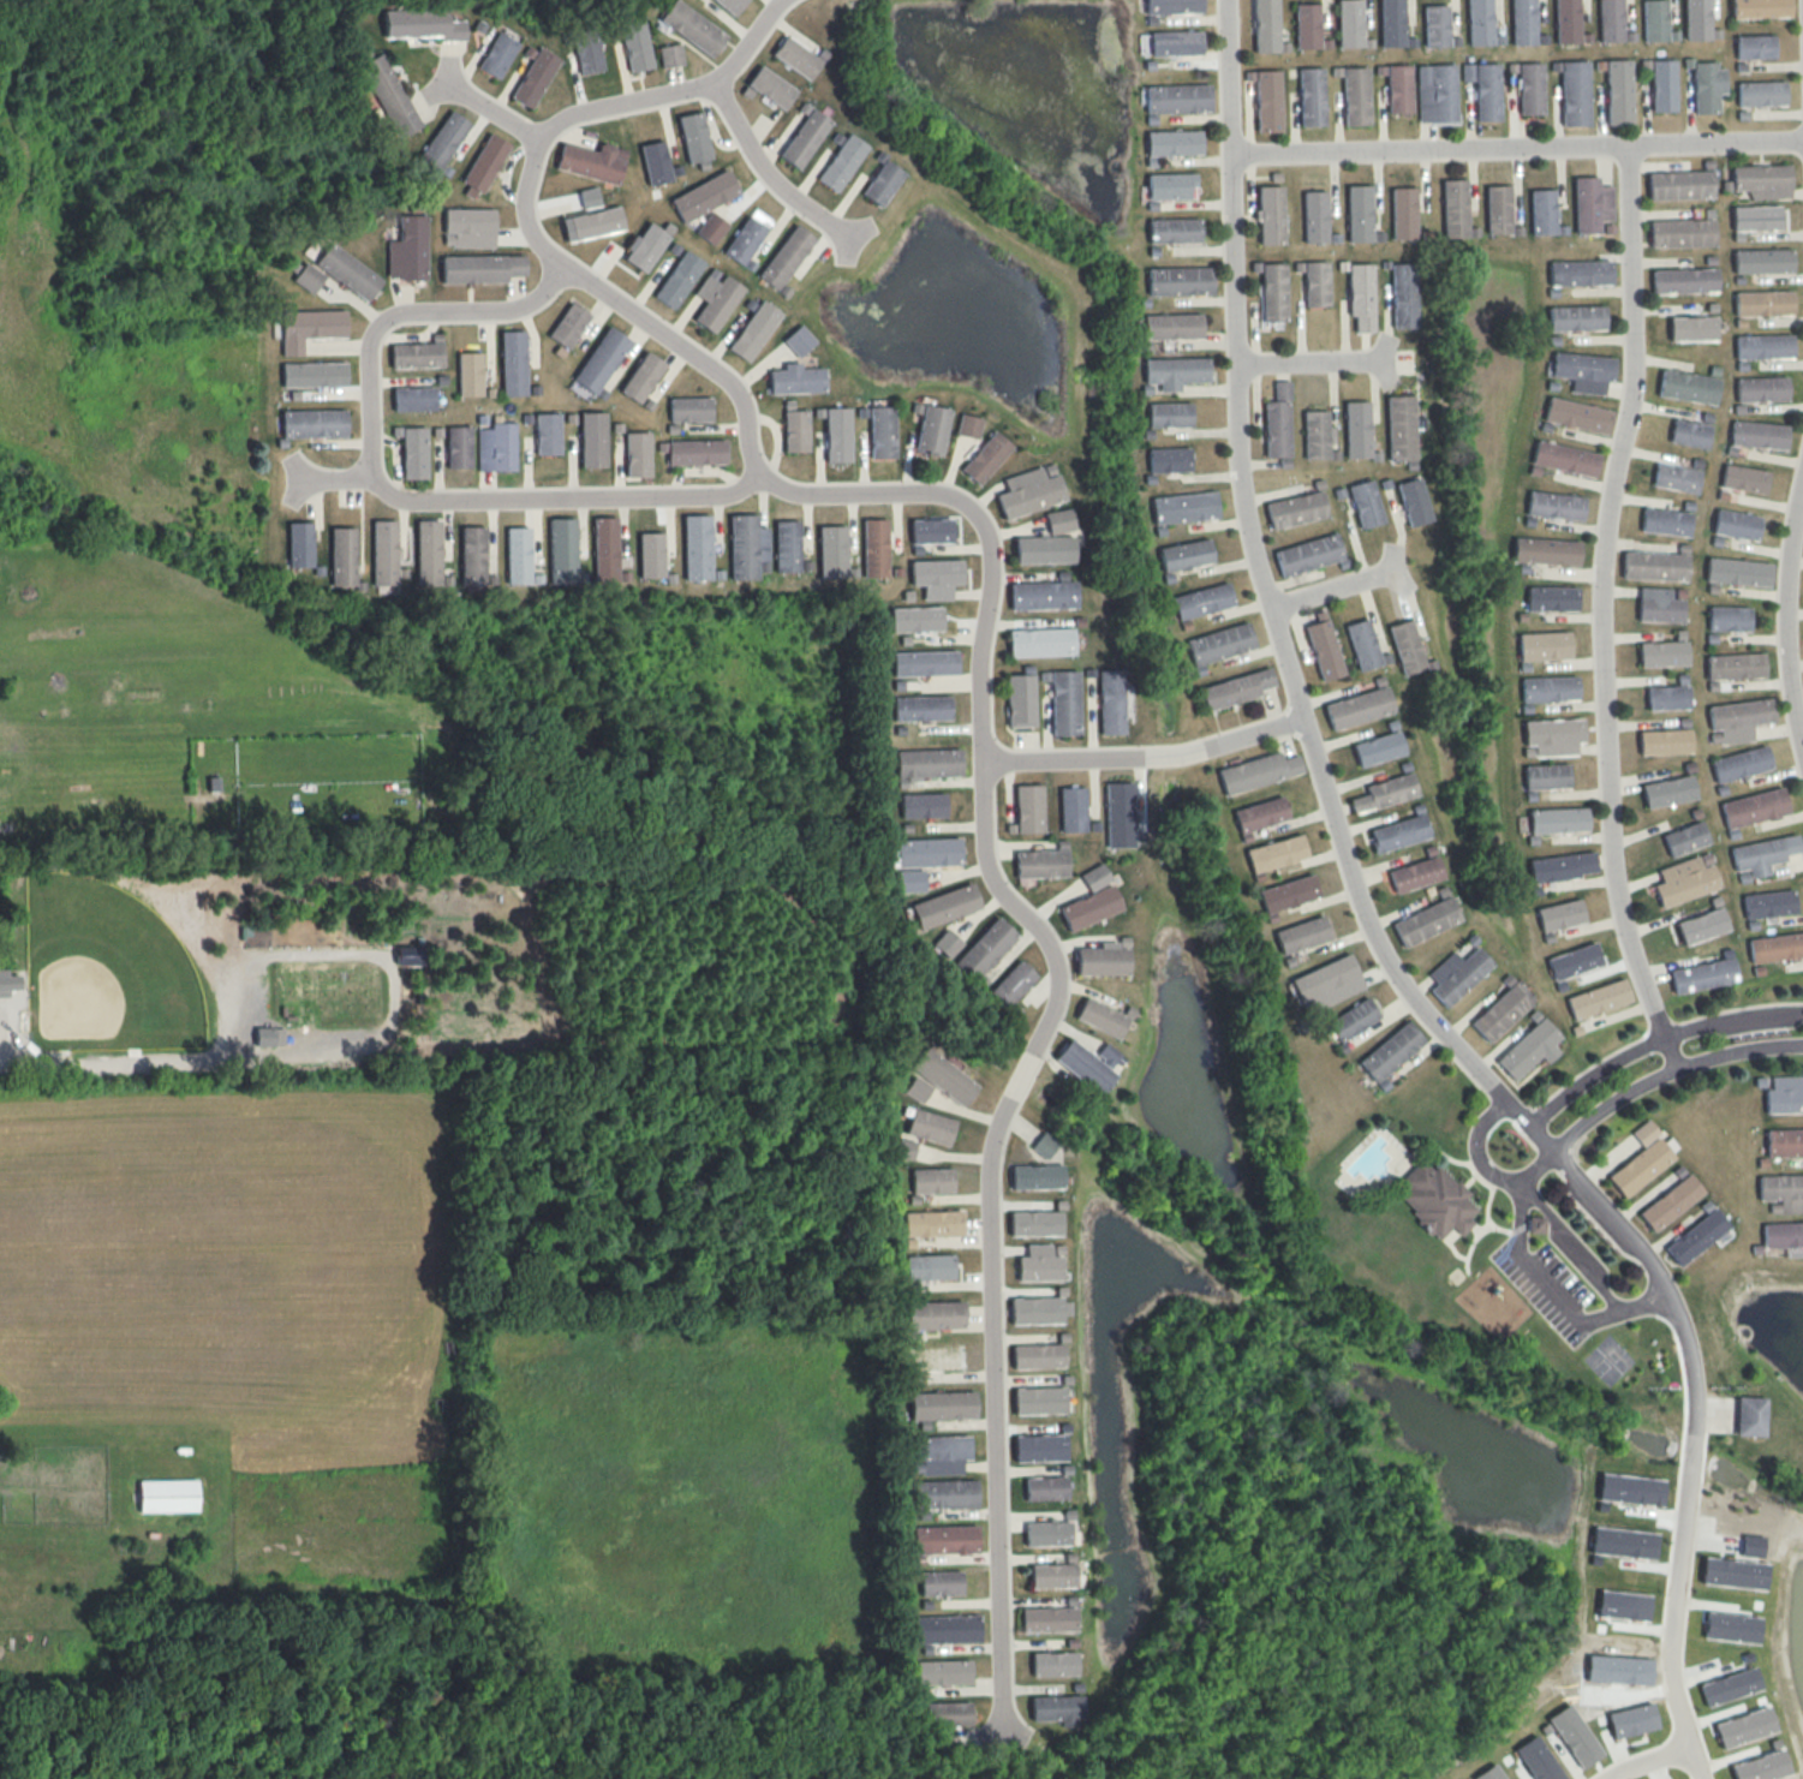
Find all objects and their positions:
building: (730, 5)
building: (1174, 6)
building: (1760, 8)
building: (1654, 19)
building: (1697, 19)
building: (1566, 20)
building: (1611, 20)
building: (1479, 22)
building: (1523, 22)
building: (1349, 23)
building: (1391, 23)
building: (422, 24)
building: (1266, 25)
building: (1307, 25)
building: (1435, 25)
building: (692, 28)
building: (1176, 42)
building: (635, 44)
building: (1754, 46)
building: (586, 53)
building: (497, 54)
building: (670, 55)
building: (796, 56)
building: (535, 77)
building: (1662, 85)
building: (1707, 85)
building: (771, 86)
building: (1530, 88)
building: (1483, 89)
road: (673, 91)
building: (1618, 91)
building: (1435, 92)
building: (1574, 92)
building: (1761, 92)
building: (388, 95)
building: (1355, 95)
building: (1311, 96)
building: (1177, 97)
building: (1267, 100)
road: (486, 108)
building: (694, 136)
building: (804, 137)
building: (443, 141)
building: (1174, 142)
road: (1515, 145)
building: (592, 161)
building: (655, 162)
building: (842, 162)
building: (483, 165)
road: (769, 173)
building: (1762, 180)
building: (882, 183)
building: (1680, 184)
building: (1170, 185)
building: (704, 195)
building: (589, 197)
building: (1590, 204)
building: (1455, 208)
building: (1497, 209)
building: (1541, 211)
building: (1359, 213)
building: (1403, 213)
building: (1270, 214)
building: (1314, 216)
building: (1755, 217)
building: (592, 223)
building: (468, 227)
building: (711, 227)
building: (1174, 229)
building: (1680, 232)
building: (745, 240)
building: (645, 246)
building: (407, 249)
building: (786, 257)
building: (1762, 261)
building: (480, 268)
building: (347, 271)
building: (1580, 273)
building: (308, 277)
building: (679, 279)
building: (1180, 280)
building: (1684, 280)
building: (1315, 283)
building: (1272, 291)
building: (1361, 295)
building: (1403, 295)
building: (716, 299)
building: (1762, 303)
building: (1576, 317)
building: (568, 324)
building: (1171, 326)
building: (309, 327)
building: (1691, 328)
building: (753, 330)
building: (799, 340)
building: (1763, 346)
building: (601, 359)
road: (1311, 360)
building: (513, 362)
building: (1174, 371)
building: (1583, 371)
building: (314, 374)
building: (470, 374)
building: (641, 377)
building: (796, 380)
building: (1688, 387)
building: (1761, 388)
building: (413, 399)
building: (689, 408)
building: (1168, 414)
building: (1576, 414)
building: (1277, 422)
building: (312, 423)
building: (968, 425)
building: (1399, 426)
building: (931, 429)
building: (1356, 429)
building: (795, 430)
building: (882, 431)
building: (1689, 432)
building: (547, 434)
building: (1317, 434)
building: (837, 435)
building: (1757, 435)
building: (592, 438)
building: (459, 447)
building: (496, 447)
building: (412, 450)
building: (697, 452)
building: (638, 454)
building: (985, 456)
building: (1564, 458)
building: (1168, 459)
building: (1676, 477)
road: (333, 478)
building: (1743, 478)
building: (1031, 490)
road: (388, 492)
building: (1413, 501)
building: (1365, 503)
building: (1554, 505)
building: (1183, 507)
building: (1295, 509)
building: (1059, 520)
building: (1665, 521)
building: (1736, 524)
building: (931, 531)
building: (299, 544)
building: (747, 545)
building: (787, 545)
building: (697, 547)
building: (876, 548)
building: (605, 549)
building: (1044, 549)
building: (562, 550)
building: (1545, 550)
building: (384, 551)
building: (832, 551)
building: (428, 553)
building: (651, 554)
building: (1184, 554)
building: (1307, 554)
building: (472, 555)
building: (518, 555)
building: (342, 556)
building: (1654, 566)
building: (1737, 571)
building: (936, 577)
road: (1335, 589)
road: (1601, 593)
building: (1043, 595)
building: (1551, 597)
building: (1201, 601)
building: (1658, 605)
road: (1786, 611)
building: (1729, 617)
building: (915, 619)
building: (1040, 641)
building: (1219, 643)
building: (1361, 644)
building: (1544, 645)
building: (1405, 646)
building: (1323, 647)
building: (1661, 653)
building: (924, 663)
building: (1735, 665)
building: (1235, 688)
building: (1548, 688)
building: (1666, 697)
building: (1020, 699)
building: (1110, 702)
building: (1064, 703)
building: (921, 708)
building: (1357, 708)
building: (1737, 720)
building: (1552, 735)
building: (1664, 741)
building: (1377, 748)
road: (1145, 753)
building: (1739, 763)
building: (927, 764)
building: (1256, 771)
building: (1545, 776)
road: (1325, 787)
building: (1667, 790)
building: (1384, 792)
building: (923, 805)
road: (983, 805)
building: (1753, 807)
building: (1071, 808)
building: (1259, 813)
building: (1118, 814)
building: (1557, 819)
building: (1398, 832)
building: (1684, 838)
building: (925, 852)
building: (1274, 853)
building: (1762, 854)
building: (1040, 864)
building: (1562, 866)
building: (1414, 873)
building: (1094, 876)
building: (1684, 879)
building: (911, 880)
building: (1286, 893)
building: (1768, 903)
building: (944, 906)
building: (1089, 907)
building: (1559, 914)
building: (1425, 920)
building: (1701, 925)
building: (1300, 933)
building: (947, 943)
building: (1775, 947)
building: (984, 949)
building: (408, 954)
building: (1103, 959)
building: (1574, 961)
building: (1456, 974)
building: (1702, 974)
building: (8, 983)
building: (1326, 983)
building: (1011, 984)
building: (1598, 998)
building: (1501, 1010)
building: (1100, 1017)
building: (1351, 1019)
building: (269, 1035)
road: (1655, 1041)
building: (1529, 1049)
building: (1390, 1051)
building: (1106, 1055)
road: (1668, 1055)
building: (1083, 1065)
road: (1666, 1073)
building: (943, 1076)
building: (917, 1088)
building: (1784, 1094)
building: (930, 1127)
building: (1784, 1142)
building: (1043, 1145)
building: (905, 1148)
building: (1641, 1160)
road: (1482, 1168)
building: (1035, 1176)
building: (931, 1180)
building: (1781, 1192)
building: (1434, 1199)
building: (1670, 1201)
building: (932, 1223)
building: (1035, 1223)
building: (1535, 1224)
building: (1696, 1236)
building: (1784, 1236)
road: (1583, 1262)
building: (1039, 1264)
building: (929, 1266)
road: (1534, 1278)
building: (1038, 1309)
building: (935, 1314)
building: (1037, 1355)
building: (1039, 1399)
building: (942, 1405)
building: (1749, 1415)
building: (1039, 1447)
building: (939, 1453)
building: (1045, 1488)
building: (1629, 1488)
building: (944, 1493)
building: (168, 1496)
building: (1047, 1533)
building: (945, 1539)
building: (1622, 1542)
building: (1751, 1545)
building: (1733, 1572)
building: (1052, 1575)
building: (941, 1583)
building: (1622, 1605)
road: (1672, 1606)
building: (1049, 1619)
building: (1731, 1626)
building: (947, 1629)
building: (1055, 1664)
building: (1618, 1668)
building: (943, 1672)
building: (1729, 1685)
building: (1057, 1708)
building: (948, 1713)
building: (1631, 1720)
building: (1744, 1726)
building: (1574, 1736)
building: (1538, 1760)
road: (1649, 1761)
road: (1695, 1762)
building: (1761, 1766)
building: (1489, 1773)

